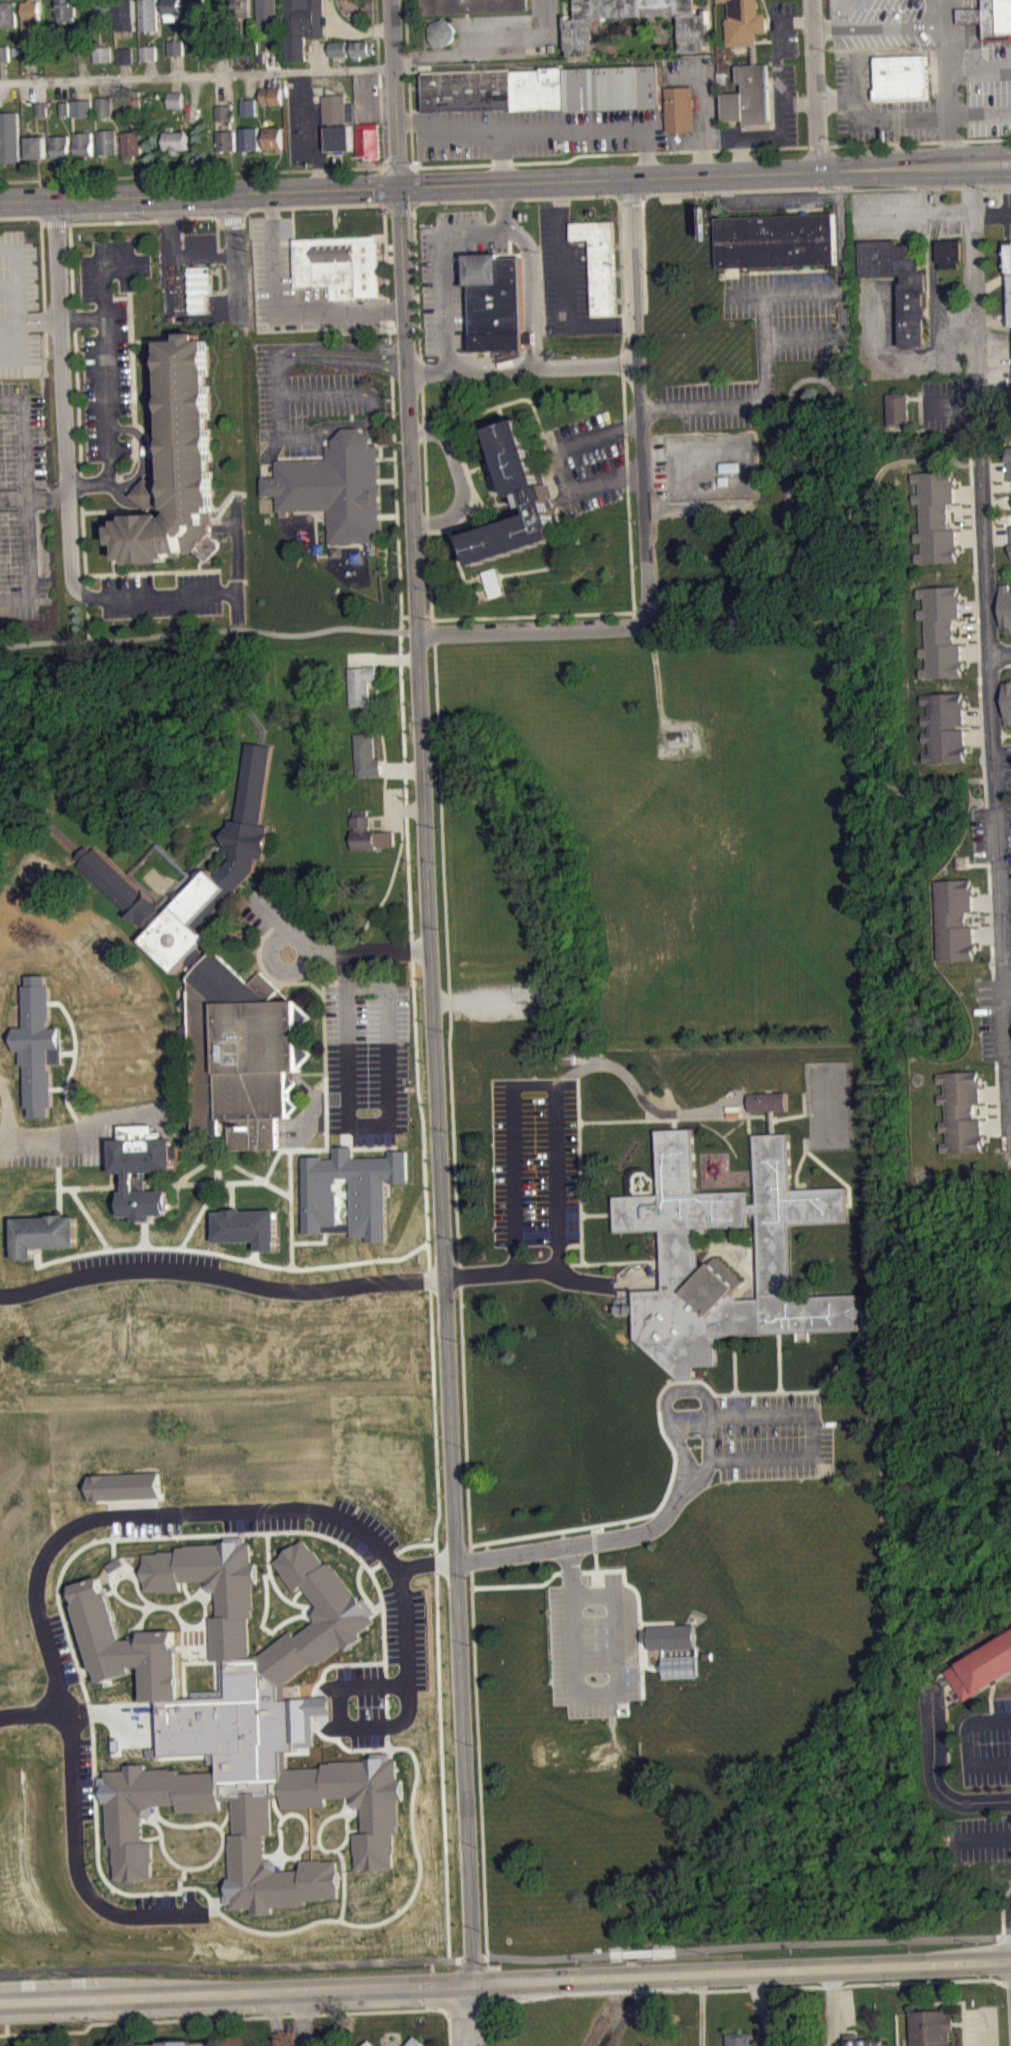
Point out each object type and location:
building: (473, 6)
building: (198, 8)
building: (67, 9)
building: (173, 9)
building: (104, 10)
building: (241, 11)
building: (267, 12)
building: (8, 13)
building: (126, 14)
building: (149, 14)
building: (32, 16)
road: (376, 18)
building: (990, 18)
building: (744, 22)
building: (970, 22)
building: (580, 23)
parking lot: (882, 23)
building: (302, 25)
road: (880, 26)
road: (826, 27)
building: (442, 30)
building: (80, 34)
building: (176, 46)
building: (352, 48)
building: (223, 49)
building: (148, 52)
building: (4, 53)
building: (102, 53)
building: (125, 55)
building: (148, 59)
building: (102, 60)
building: (126, 63)
road: (981, 68)
road: (196, 74)
building: (901, 76)
road: (951, 82)
road: (409, 83)
parking lot: (775, 85)
road: (815, 85)
road: (707, 86)
building: (543, 88)
parking lot: (989, 89)
building: (271, 95)
building: (749, 95)
road: (854, 95)
parking lot: (367, 96)
parking lot: (697, 97)
road: (779, 97)
building: (175, 99)
road: (798, 101)
road: (380, 102)
building: (104, 105)
building: (134, 105)
building: (248, 106)
parking lot: (877, 106)
building: (83, 107)
building: (681, 107)
building: (65, 108)
building: (338, 108)
building: (43, 109)
building: (225, 112)
road: (981, 112)
building: (224, 119)
road: (881, 120)
road: (542, 129)
parking lot: (535, 131)
building: (10, 136)
building: (272, 137)
building: (339, 137)
road: (982, 137)
building: (249, 138)
building: (226, 139)
building: (369, 139)
building: (108, 141)
building: (176, 141)
road: (890, 141)
building: (85, 143)
building: (131, 143)
road: (703, 143)
building: (60, 145)
building: (37, 146)
road: (817, 146)
road: (609, 152)
road: (501, 157)
road: (385, 161)
road: (397, 161)
road: (409, 161)
road: (191, 174)
road: (705, 175)
road: (378, 185)
road: (416, 185)
traffic signals: (399, 187)
road: (770, 189)
road: (199, 194)
road: (516, 198)
road: (630, 198)
road: (343, 205)
road: (399, 205)
road: (768, 205)
road: (263, 207)
road: (201, 216)
road: (993, 218)
road: (230, 219)
road: (920, 220)
road: (55, 221)
road: (73, 222)
road: (292, 225)
road: (840, 229)
building: (776, 239)
road: (442, 244)
building: (950, 251)
road: (218, 254)
road: (233, 254)
road: (559, 257)
building: (599, 261)
building: (340, 264)
road: (42, 266)
road: (18, 267)
building: (1009, 270)
parking lot: (452, 271)
road: (387, 272)
parking lot: (563, 273)
road: (416, 279)
building: (899, 282)
road: (525, 283)
building: (198, 287)
parking lot: (298, 288)
road: (534, 292)
road: (100, 296)
road: (114, 296)
road: (128, 301)
building: (496, 301)
parking lot: (19, 304)
road: (280, 309)
parking lot: (792, 311)
road: (19, 313)
road: (40, 320)
road: (599, 320)
road: (787, 334)
road: (529, 337)
parking lot: (107, 339)
road: (977, 345)
road: (337, 346)
road: (21, 350)
road: (527, 355)
road: (339, 358)
road: (836, 358)
road: (522, 367)
road: (274, 375)
road: (64, 389)
road: (392, 391)
road: (132, 392)
road: (362, 394)
road: (521, 398)
road: (638, 400)
parking lot: (719, 401)
parking lot: (305, 403)
building: (897, 408)
road: (78, 410)
road: (469, 414)
road: (106, 417)
road: (973, 430)
road: (282, 433)
road: (23, 439)
road: (376, 442)
road: (387, 443)
road: (141, 444)
parking lot: (589, 458)
building: (1009, 458)
road: (395, 459)
building: (179, 464)
road: (483, 464)
road: (560, 464)
building: (729, 465)
road: (786, 474)
road: (469, 476)
road: (460, 477)
road: (134, 478)
building: (723, 479)
building: (335, 486)
road: (396, 487)
building: (529, 488)
road: (426, 489)
road: (119, 495)
road: (48, 496)
road: (13, 497)
parking lot: (24, 504)
road: (628, 504)
road: (113, 510)
building: (935, 516)
road: (83, 540)
road: (457, 556)
road: (563, 556)
road: (120, 560)
road: (29, 562)
road: (399, 564)
road: (209, 569)
road: (162, 571)
road: (841, 571)
road: (114, 572)
road: (852, 584)
road: (143, 593)
parking lot: (160, 594)
building: (1005, 605)
road: (87, 613)
road: (416, 615)
road: (637, 615)
road: (977, 628)
road: (208, 630)
road: (530, 630)
road: (881, 630)
building: (941, 631)
road: (433, 633)
road: (1000, 652)
road: (382, 657)
road: (1008, 663)
road: (993, 664)
building: (1010, 680)
building: (361, 684)
building: (1008, 701)
building: (945, 727)
road: (1007, 733)
road: (993, 734)
building: (366, 755)
road: (401, 767)
road: (995, 778)
road: (403, 808)
road: (388, 827)
building: (368, 832)
road: (988, 833)
parking lot: (997, 840)
road: (187, 873)
building: (956, 919)
road: (991, 919)
road: (282, 925)
road: (410, 937)
road: (368, 949)
road: (447, 953)
road: (1002, 977)
building: (222, 980)
road: (304, 982)
road: (321, 982)
road: (1008, 987)
road: (429, 992)
road: (996, 1019)
parking lot: (996, 1031)
road: (390, 1039)
road: (68, 1051)
road: (71, 1066)
road: (175, 1076)
road: (58, 1087)
road: (1000, 1097)
road: (643, 1098)
building: (765, 1101)
park: (830, 1104)
building: (963, 1110)
road: (756, 1115)
road: (794, 1115)
road: (634, 1119)
road: (555, 1121)
road: (768, 1121)
road: (672, 1123)
road: (733, 1126)
road: (86, 1130)
road: (325, 1131)
road: (719, 1134)
road: (3, 1139)
road: (66, 1142)
road: (362, 1146)
road: (212, 1156)
parking lot: (533, 1160)
road: (797, 1162)
building: (141, 1167)
road: (833, 1173)
road: (57, 1176)
road: (256, 1177)
road: (240, 1182)
road: (61, 1187)
road: (276, 1187)
road: (233, 1192)
building: (350, 1192)
road: (749, 1192)
road: (289, 1195)
road: (58, 1198)
road: (176, 1198)
building: (750, 1208)
road: (200, 1213)
road: (88, 1218)
building: (247, 1226)
road: (751, 1229)
building: (42, 1232)
road: (144, 1233)
road: (580, 1237)
road: (297, 1241)
road: (158, 1246)
road: (750, 1246)
building: (678, 1250)
road: (146, 1256)
road: (581, 1259)
road: (621, 1262)
road: (459, 1274)
road: (221, 1276)
road: (609, 1282)
road: (779, 1362)
road: (734, 1363)
road: (775, 1391)
road: (465, 1417)
parking lot: (765, 1436)
road: (710, 1449)
road: (736, 1458)
road: (172, 1511)
road: (437, 1525)
road: (588, 1542)
road: (471, 1559)
building: (674, 1644)
building: (982, 1666)
building: (682, 1673)
road: (590, 1689)
road: (992, 1697)
road: (984, 1720)
road: (399, 1724)
road: (986, 1762)
road: (479, 1765)
road: (932, 1774)
parking lot: (982, 1790)
road: (73, 1823)
road: (977, 1836)
road: (1002, 1909)
road: (1010, 1923)
road: (745, 1945)
road: (470, 1958)
road: (440, 1959)
road: (216, 1967)
road: (505, 1983)
road: (433, 1988)
road: (727, 1989)
road: (960, 2001)
road: (434, 2006)
road: (832, 2006)
road: (763, 2008)
road: (702, 2009)
road: (469, 2015)
road: (239, 2016)
road: (275, 2020)
road: (303, 2020)
road: (959, 2021)
parking lot: (981, 2026)
road: (985, 2026)
building: (932, 2027)
building: (740, 2039)
building: (863, 2041)
building: (415, 2042)
building: (181, 2043)
building: (369, 2043)

